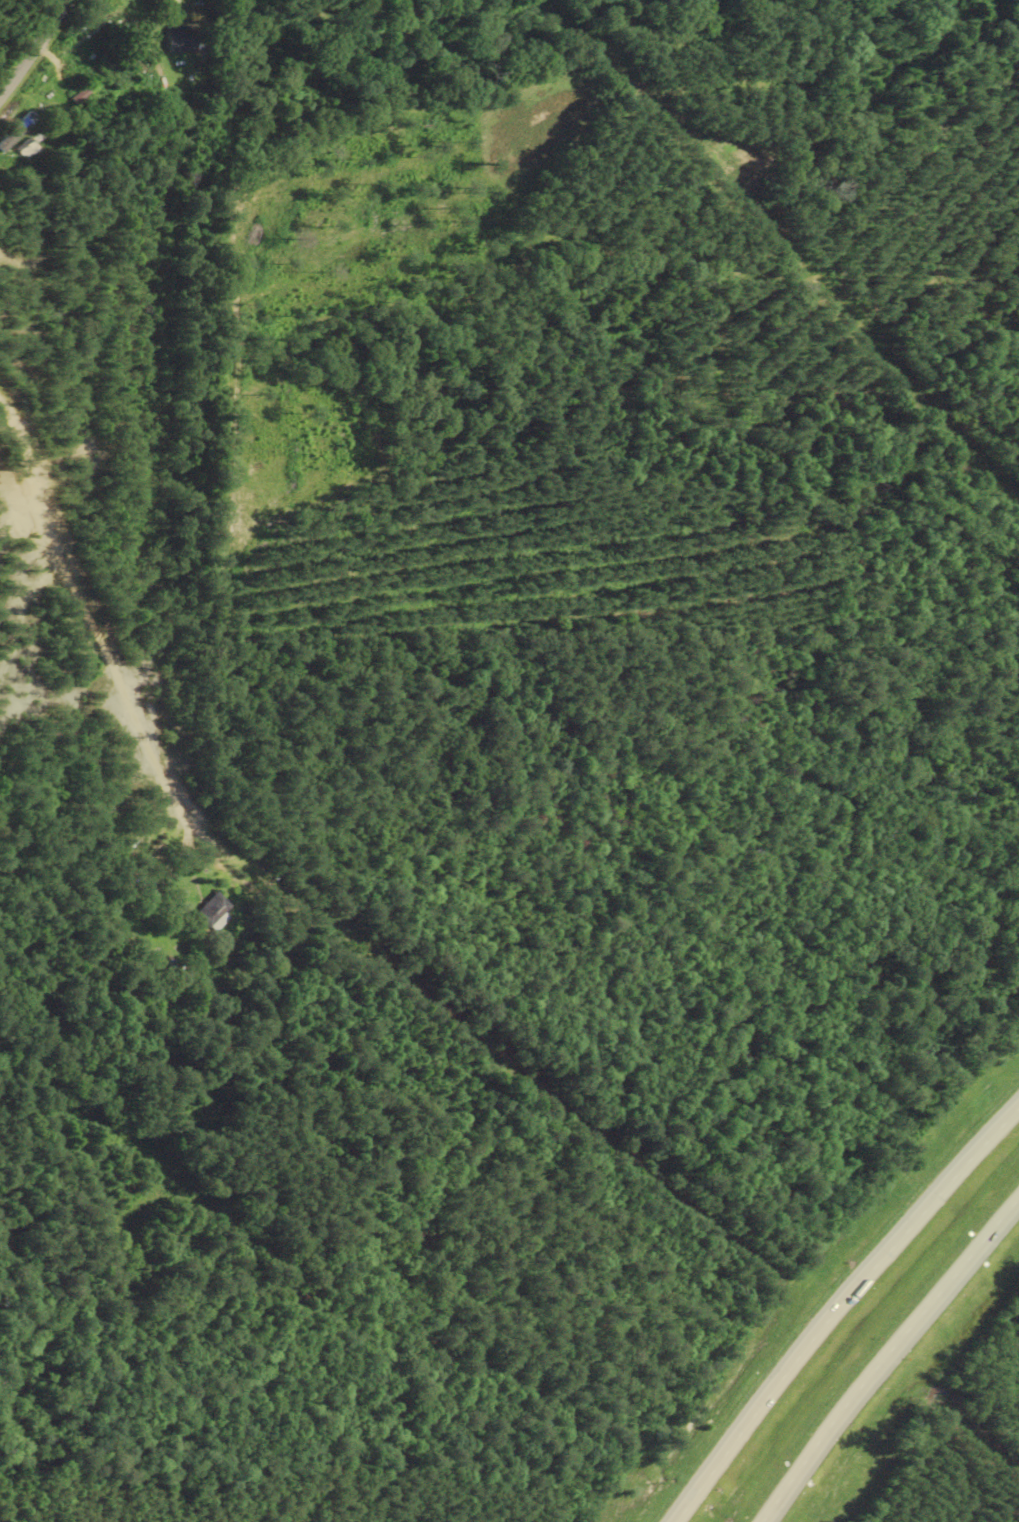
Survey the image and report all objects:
building: (179, 39)
road: (33, 47)
building: (29, 151)
road: (107, 655)
building: (216, 912)
road: (838, 1308)
road: (885, 1357)

